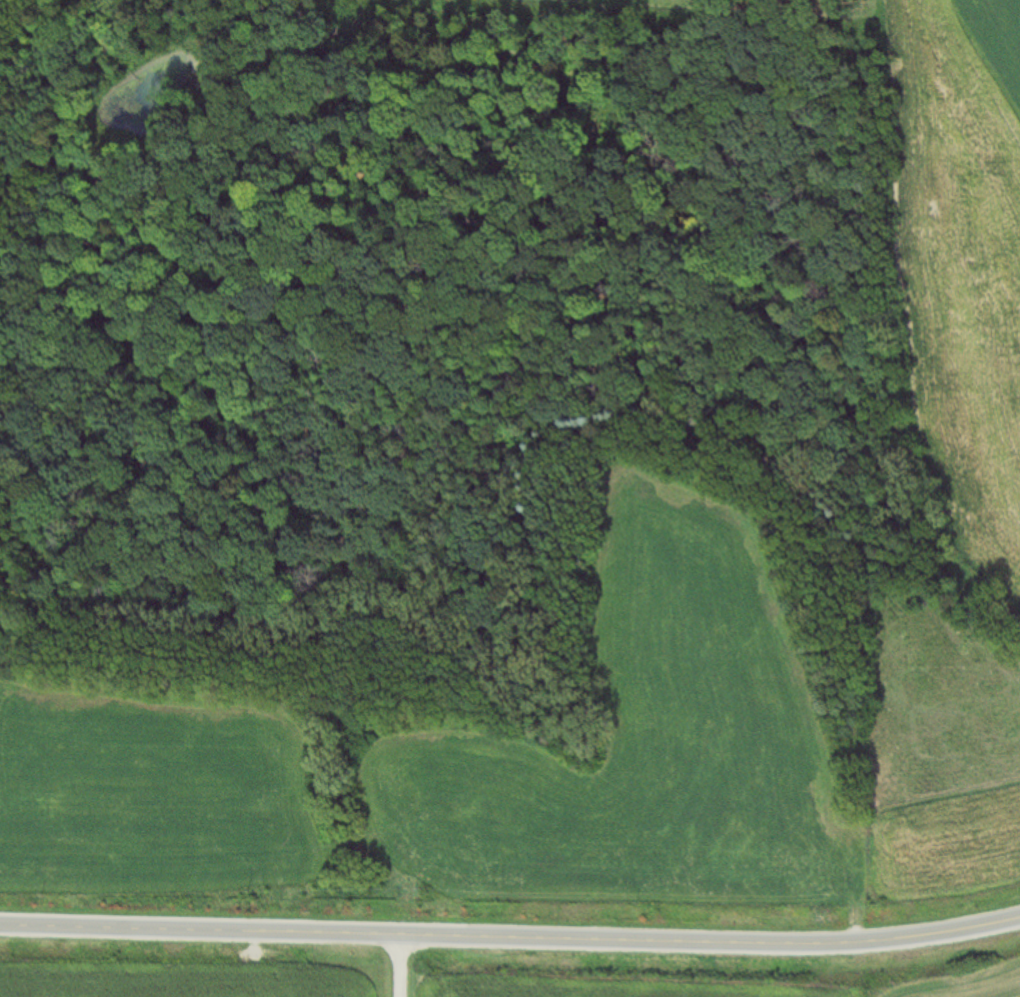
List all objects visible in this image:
road: (511, 943)
road: (396, 970)

